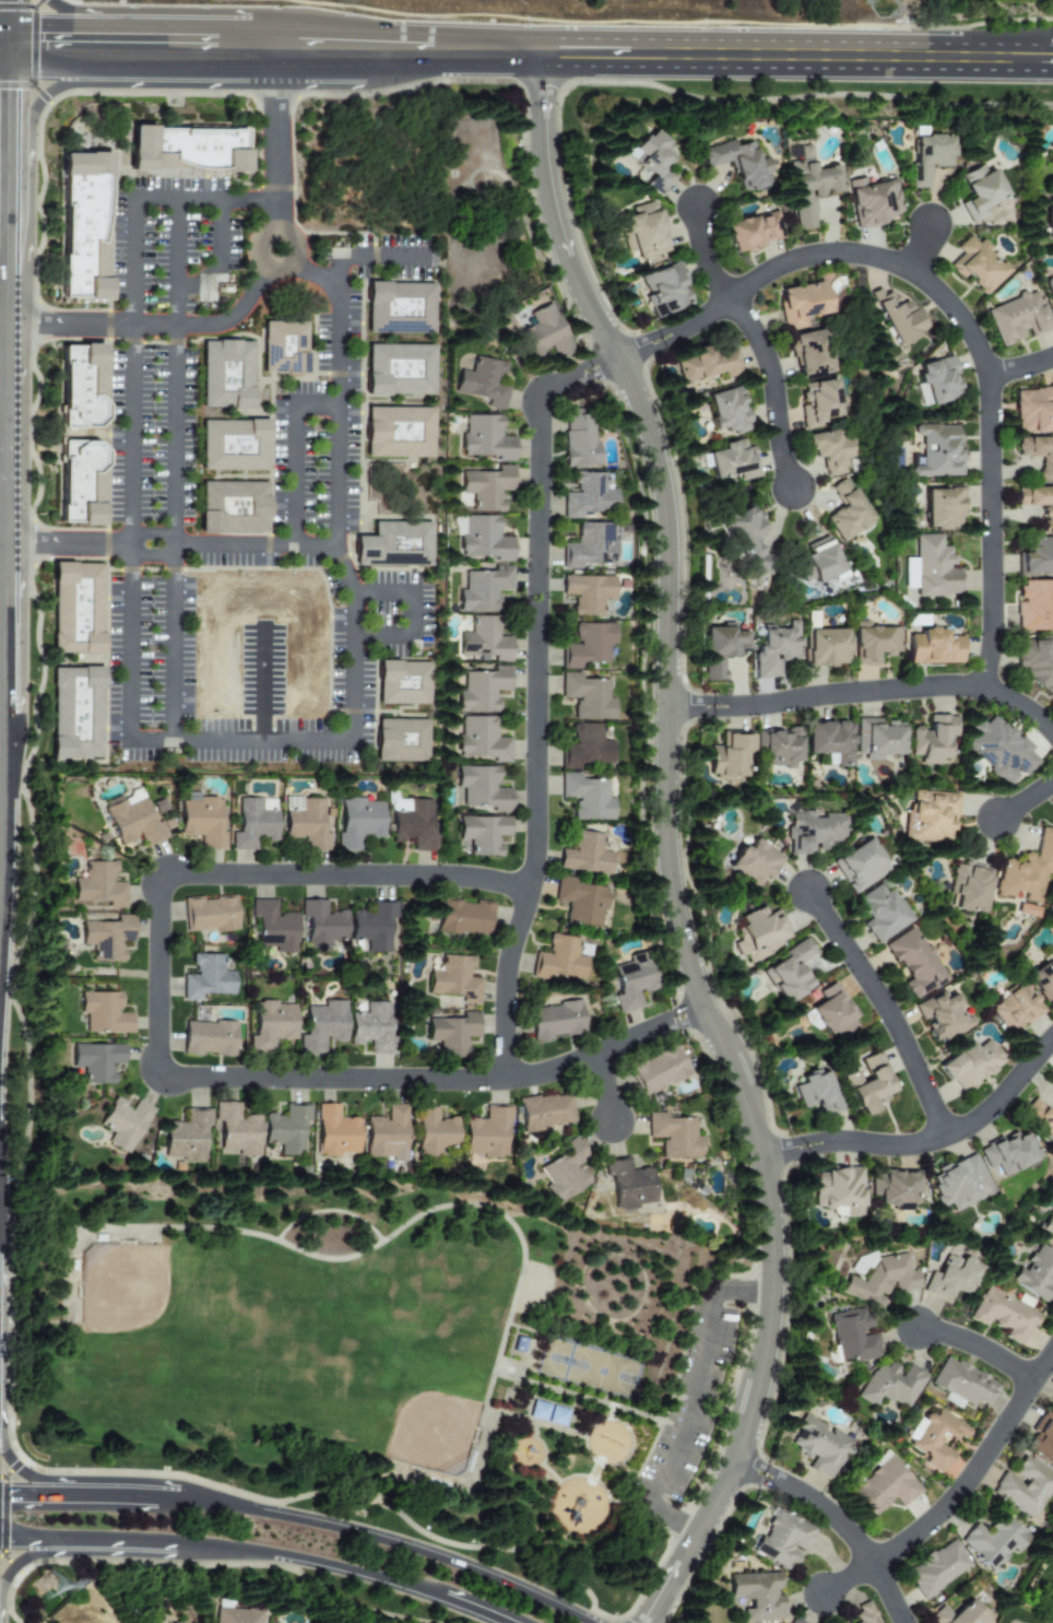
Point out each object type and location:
road: (13, 24)
road: (106, 26)
road: (798, 32)
road: (7, 45)
traffic signals: (48, 50)
road: (87, 50)
road: (7, 51)
road: (607, 61)
road: (71, 82)
traffic signals: (13, 101)
road: (13, 102)
road: (276, 122)
building: (140, 149)
building: (926, 155)
building: (651, 161)
building: (1049, 161)
building: (736, 164)
building: (807, 187)
building: (979, 192)
road: (12, 200)
building: (871, 202)
road: (275, 213)
building: (1048, 219)
building: (83, 226)
building: (641, 231)
building: (752, 232)
road: (289, 246)
road: (922, 248)
road: (216, 255)
road: (702, 256)
road: (10, 259)
road: (372, 260)
building: (977, 264)
road: (310, 271)
building: (663, 289)
building: (1050, 291)
road: (127, 295)
building: (801, 304)
building: (399, 308)
road: (958, 314)
building: (897, 316)
building: (1017, 318)
road: (154, 326)
building: (544, 332)
road: (335, 341)
building: (283, 348)
building: (808, 354)
building: (702, 364)
building: (399, 369)
road: (1021, 371)
building: (226, 375)
building: (937, 380)
building: (484, 383)
building: (82, 386)
road: (774, 388)
road: (315, 402)
building: (818, 402)
road: (10, 408)
building: (1033, 410)
building: (726, 411)
building: (398, 432)
building: (578, 437)
building: (486, 438)
building: (234, 445)
building: (829, 450)
building: (937, 452)
building: (1038, 454)
building: (731, 461)
road: (177, 466)
building: (80, 482)
building: (487, 487)
building: (588, 496)
building: (1038, 504)
building: (233, 507)
building: (943, 508)
building: (847, 511)
building: (483, 538)
building: (746, 540)
road: (5, 542)
road: (174, 545)
building: (394, 545)
building: (591, 545)
building: (1037, 557)
building: (818, 564)
building: (934, 568)
building: (485, 589)
building: (588, 593)
building: (1034, 605)
building: (75, 609)
road: (415, 612)
road: (10, 628)
building: (485, 639)
building: (872, 643)
building: (589, 645)
building: (933, 647)
building: (719, 648)
building: (824, 648)
building: (774, 649)
building: (1036, 661)
building: (403, 683)
building: (484, 690)
road: (868, 693)
road: (541, 696)
building: (588, 697)
building: (75, 713)
building: (877, 738)
road: (194, 739)
building: (403, 740)
building: (483, 740)
building: (830, 740)
building: (932, 740)
building: (587, 748)
building: (778, 748)
building: (998, 750)
building: (730, 756)
building: (483, 788)
building: (587, 797)
road: (1027, 803)
building: (930, 816)
building: (133, 820)
building: (201, 821)
building: (307, 822)
building: (360, 822)
building: (253, 823)
building: (415, 825)
building: (812, 831)
building: (483, 834)
road: (5, 842)
road: (673, 854)
building: (585, 855)
building: (752, 863)
building: (859, 865)
building: (1027, 871)
building: (99, 885)
building: (969, 887)
building: (580, 902)
building: (1027, 910)
building: (880, 912)
building: (211, 914)
building: (464, 918)
building: (322, 926)
building: (273, 927)
building: (377, 927)
building: (757, 933)
building: (107, 938)
building: (559, 958)
building: (913, 963)
building: (786, 973)
building: (208, 978)
building: (454, 979)
building: (631, 980)
building: (1042, 980)
building: (1015, 1007)
building: (830, 1012)
building: (104, 1013)
road: (886, 1014)
building: (942, 1016)
building: (555, 1021)
building: (272, 1025)
building: (322, 1026)
building: (372, 1028)
building: (453, 1034)
building: (209, 1038)
building: (97, 1061)
building: (970, 1065)
building: (656, 1071)
road: (164, 1073)
building: (867, 1084)
road: (608, 1091)
building: (816, 1093)
building: (1039, 1117)
building: (125, 1124)
building: (287, 1129)
building: (237, 1130)
building: (434, 1131)
building: (336, 1132)
building: (487, 1133)
building: (388, 1134)
building: (673, 1136)
building: (188, 1137)
road: (930, 1144)
building: (1008, 1153)
building: (564, 1171)
building: (959, 1183)
building: (628, 1185)
building: (895, 1188)
building: (838, 1190)
road: (403, 1225)
building: (1045, 1230)
road: (68, 1268)
building: (1036, 1273)
building: (950, 1278)
building: (880, 1280)
park: (121, 1287)
building: (1003, 1314)
building: (851, 1337)
building: (518, 1344)
road: (981, 1349)
park: (382, 1357)
park: (589, 1367)
building: (890, 1385)
building: (962, 1385)
road: (691, 1402)
building: (1052, 1402)
building: (548, 1413)
park: (433, 1433)
building: (934, 1437)
building: (1041, 1438)
building: (819, 1447)
road: (27, 1474)
road: (978, 1477)
road: (461, 1480)
road: (380, 1482)
building: (884, 1487)
building: (1024, 1487)
traffic signals: (15, 1494)
road: (35, 1494)
road: (113, 1495)
road: (166, 1497)
road: (839, 1528)
road: (33, 1539)
road: (392, 1540)
building: (782, 1540)
road: (121, 1541)
building: (993, 1541)
road: (175, 1542)
road: (495, 1548)
road: (27, 1556)
building: (936, 1568)
road: (338, 1572)
road: (849, 1580)
power tower: (46, 1585)
building: (755, 1596)
building: (863, 1614)
building: (957, 1614)
building: (236, 1615)
building: (790, 1621)
building: (180, 1622)

